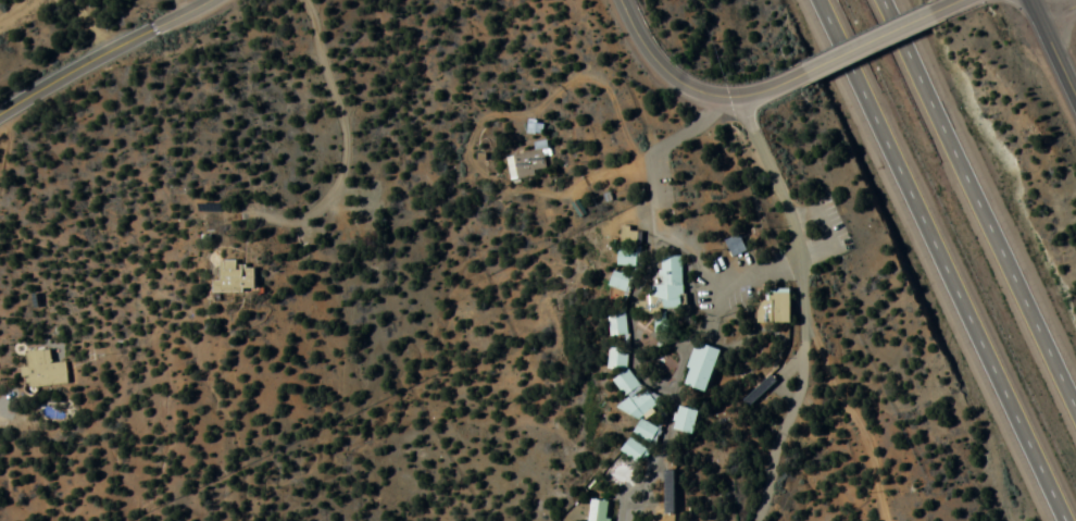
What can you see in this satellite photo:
road: (950, 3)
road: (188, 5)
road: (1058, 13)
road: (877, 37)
road: (1052, 50)
road: (105, 53)
road: (701, 84)
road: (230, 162)
building: (529, 162)
road: (972, 213)
road: (665, 222)
road: (838, 225)
building: (628, 248)
road: (951, 260)
building: (674, 275)
building: (236, 277)
building: (620, 282)
building: (774, 308)
road: (802, 312)
building: (616, 327)
building: (700, 368)
building: (42, 371)
building: (758, 392)
building: (633, 395)
building: (684, 421)
building: (631, 449)
building: (668, 492)
building: (597, 510)

